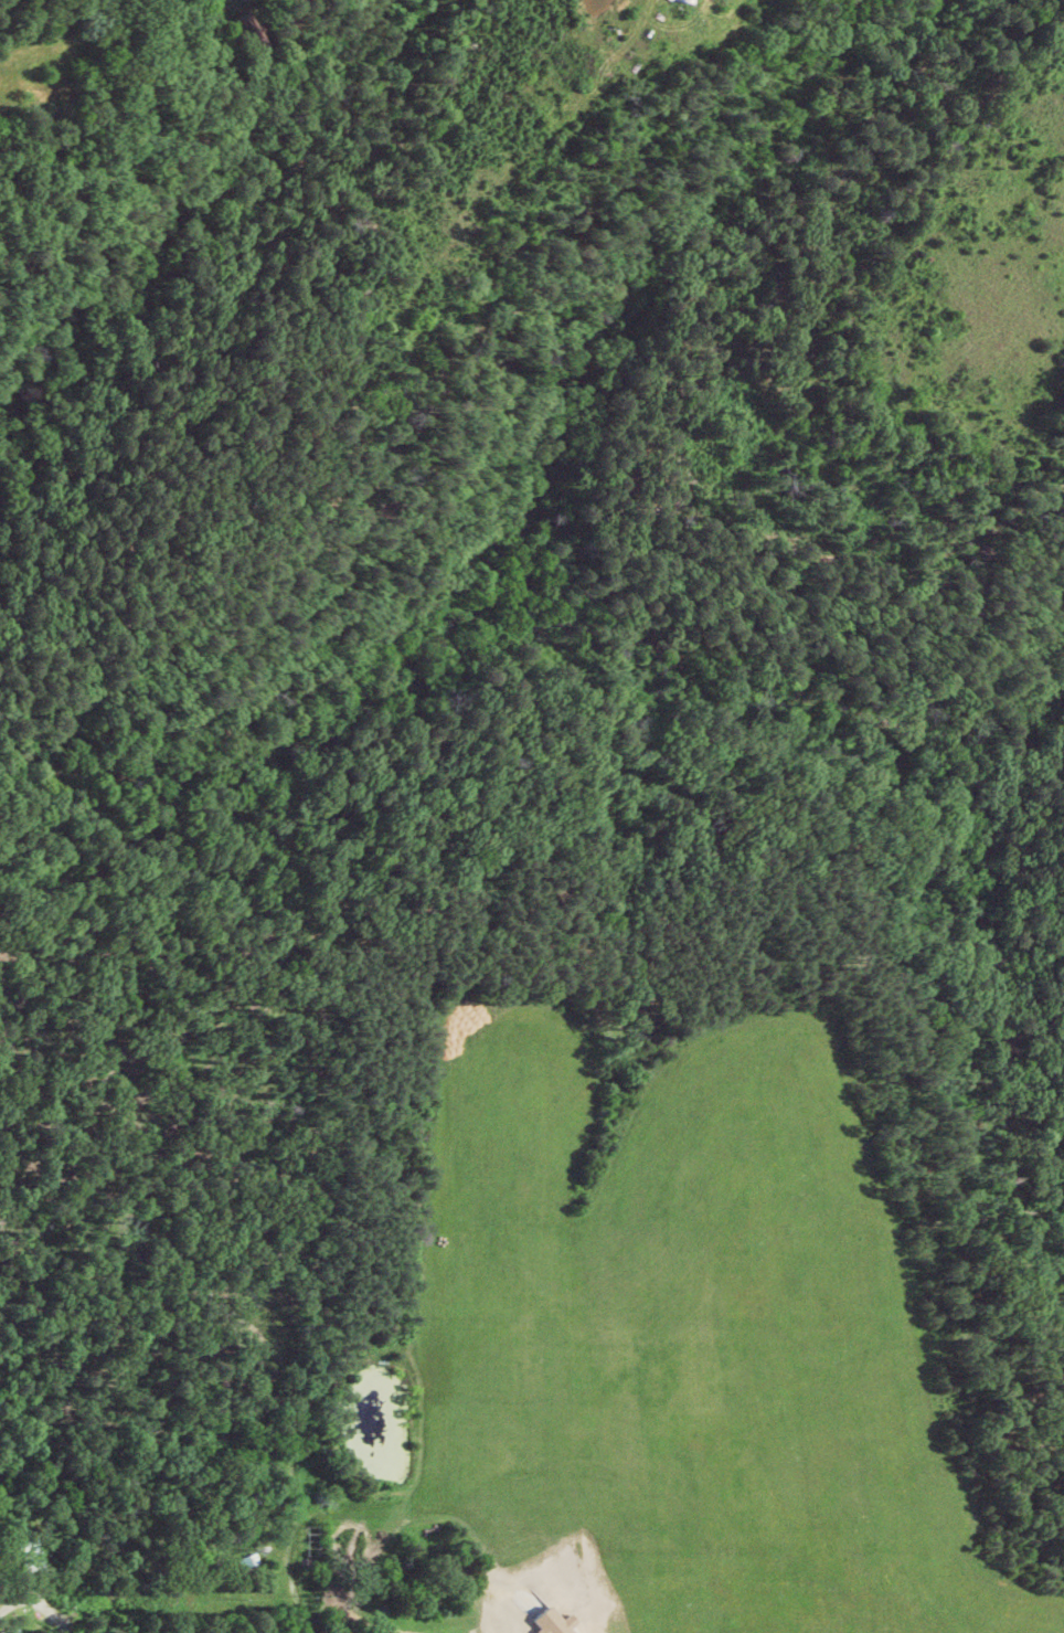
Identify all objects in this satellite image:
building: (258, 31)
road: (307, 1552)
building: (561, 1621)

